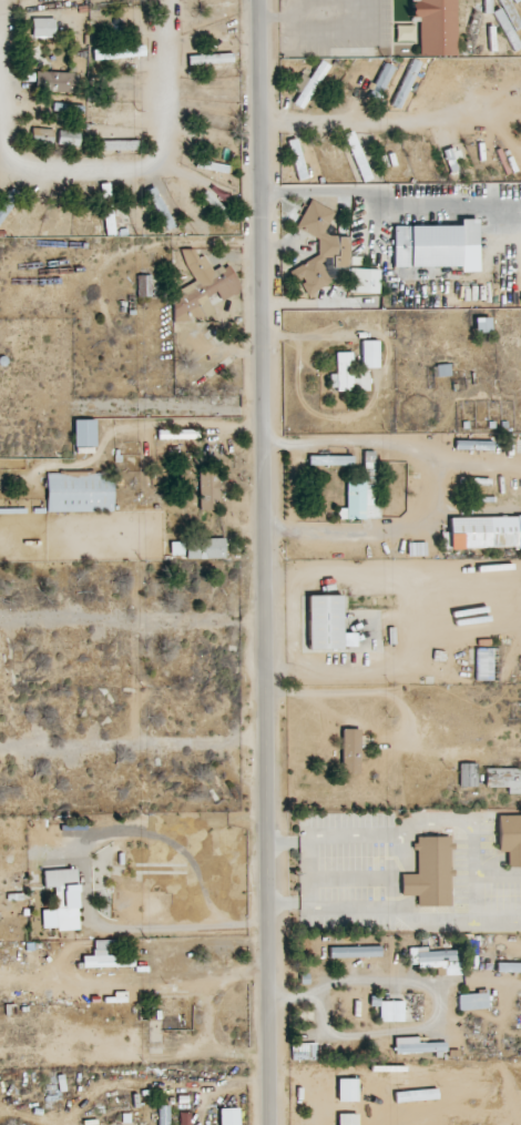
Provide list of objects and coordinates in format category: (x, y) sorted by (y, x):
building: (512, 0)
building: (43, 27)
building: (436, 27)
building: (508, 29)
building: (27, 41)
building: (119, 52)
building: (381, 80)
building: (53, 81)
building: (406, 83)
building: (307, 84)
building: (75, 110)
road: (366, 116)
building: (41, 135)
building: (68, 138)
building: (296, 159)
road: (82, 166)
building: (7, 203)
building: (166, 220)
building: (432, 244)
building: (321, 251)
building: (364, 281)
building: (143, 285)
building: (202, 285)
building: (482, 325)
building: (369, 354)
building: (341, 372)
building: (360, 381)
road: (160, 424)
building: (83, 434)
building: (177, 434)
building: (330, 460)
building: (208, 488)
building: (80, 491)
building: (359, 500)
building: (484, 531)
building: (176, 548)
building: (204, 548)
road: (260, 562)
road: (131, 618)
building: (324, 622)
building: (483, 663)
building: (349, 750)
road: (133, 751)
building: (468, 774)
building: (503, 779)
building: (510, 838)
building: (430, 872)
building: (61, 900)
road: (154, 928)
building: (355, 952)
building: (105, 957)
building: (436, 960)
building: (508, 966)
road: (183, 974)
road: (396, 987)
building: (472, 1001)
road: (212, 1036)
building: (417, 1045)
road: (324, 1093)
building: (163, 1115)
building: (228, 1116)
building: (347, 1119)

